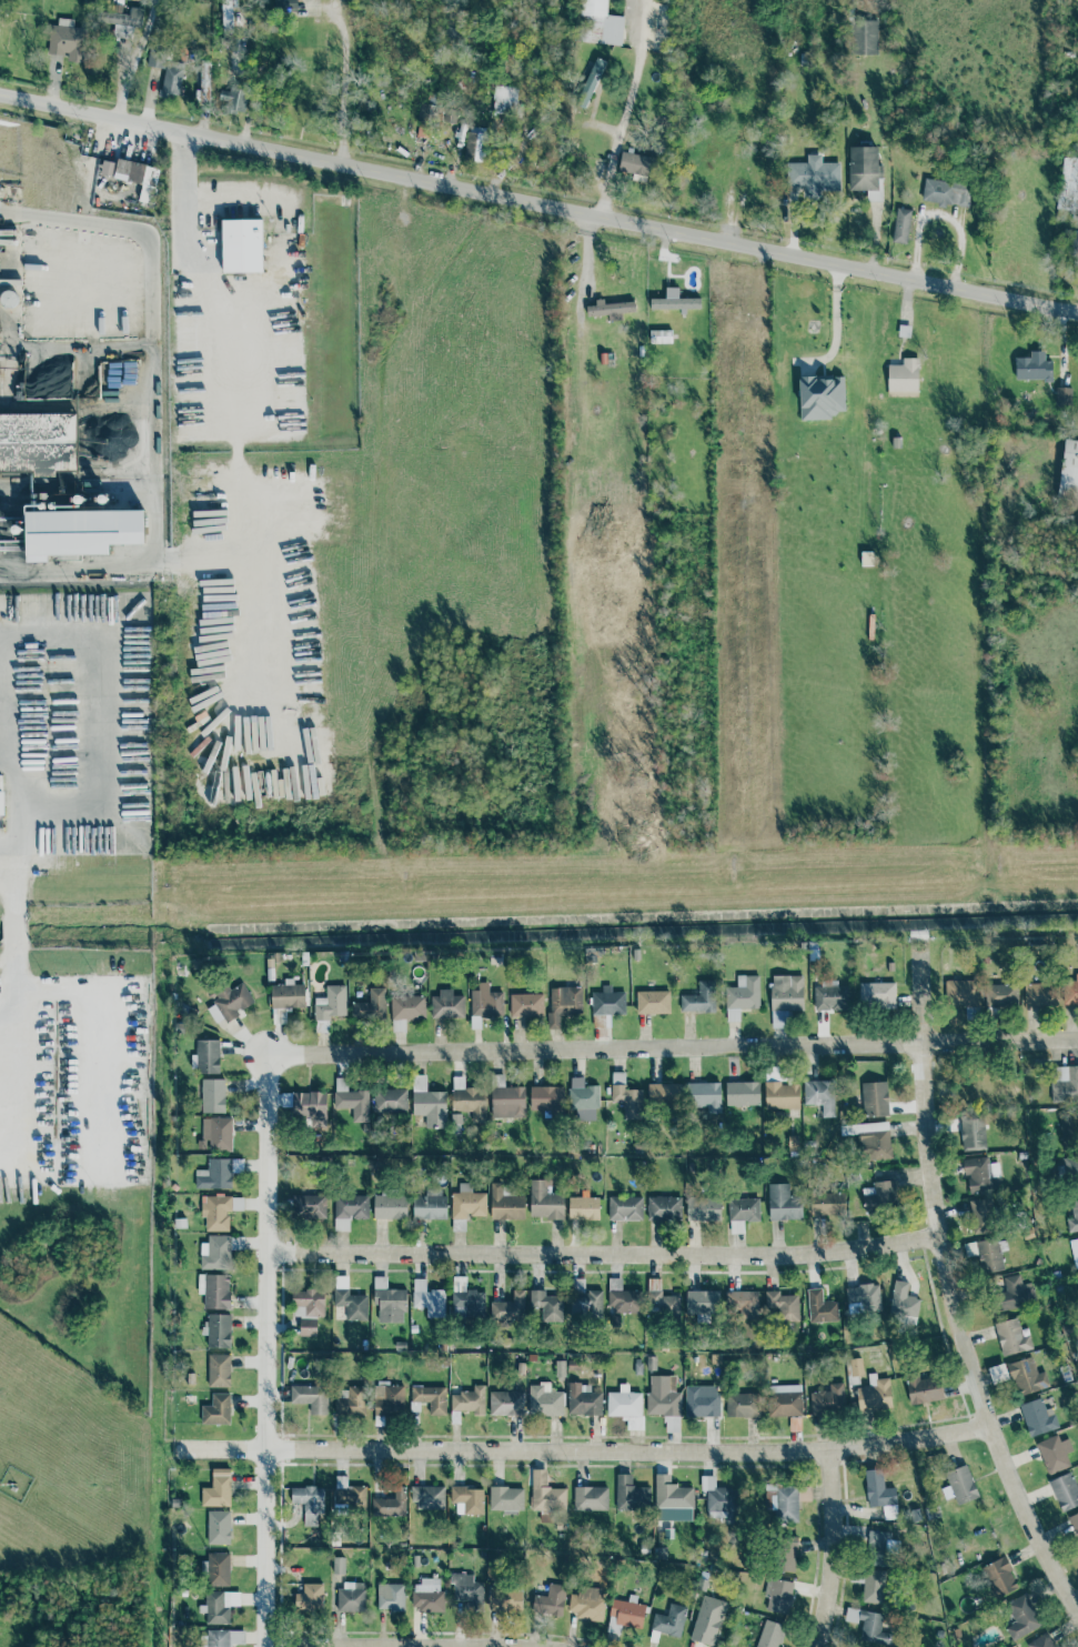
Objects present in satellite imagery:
building: (282, 4)
building: (125, 22)
building: (596, 23)
building: (865, 37)
building: (67, 40)
road: (135, 59)
road: (121, 66)
building: (167, 72)
road: (344, 74)
building: (203, 82)
building: (590, 82)
road: (150, 98)
building: (233, 99)
building: (503, 99)
road: (626, 109)
building: (425, 120)
building: (475, 143)
building: (636, 163)
building: (865, 171)
building: (133, 175)
building: (813, 177)
building: (1068, 188)
building: (945, 192)
road: (238, 200)
road: (538, 204)
road: (943, 214)
building: (901, 225)
building: (1074, 244)
building: (242, 245)
road: (586, 268)
building: (674, 301)
road: (152, 302)
building: (609, 309)
road: (835, 328)
building: (659, 335)
building: (1034, 366)
road: (807, 368)
road: (10, 376)
building: (822, 395)
building: (1064, 395)
road: (39, 408)
building: (38, 441)
road: (236, 452)
building: (1068, 471)
building: (81, 531)
road: (152, 531)
road: (99, 744)
building: (2, 803)
road: (7, 855)
road: (13, 865)
road: (13, 933)
street lamp: (92, 973)
street lamp: (42, 975)
building: (1070, 991)
building: (786, 993)
building: (876, 994)
building: (961, 994)
building: (1039, 994)
building: (288, 995)
building: (1000, 995)
building: (742, 996)
building: (830, 997)
building: (699, 998)
building: (485, 1000)
building: (607, 1002)
building: (652, 1002)
building: (229, 1003)
building: (331, 1003)
building: (563, 1003)
building: (446, 1004)
building: (370, 1005)
building: (526, 1005)
building: (407, 1007)
building: (971, 1013)
road: (673, 1046)
building: (205, 1056)
road: (17, 1061)
building: (772, 1075)
road: (107, 1076)
road: (8, 1081)
building: (1064, 1084)
building: (664, 1093)
building: (742, 1093)
building: (212, 1095)
building: (704, 1095)
building: (780, 1095)
building: (817, 1095)
building: (626, 1096)
building: (583, 1098)
building: (874, 1098)
building: (469, 1099)
building: (547, 1099)
building: (351, 1101)
building: (390, 1101)
building: (510, 1101)
building: (429, 1103)
building: (310, 1107)
building: (1069, 1132)
building: (216, 1133)
building: (969, 1134)
building: (870, 1139)
building: (1068, 1171)
building: (979, 1173)
building: (214, 1174)
street lamp: (94, 1187)
street lamp: (43, 1188)
building: (879, 1196)
building: (545, 1201)
building: (466, 1202)
building: (236, 1203)
building: (783, 1203)
building: (827, 1203)
building: (505, 1204)
building: (308, 1205)
building: (430, 1205)
building: (390, 1206)
building: (583, 1207)
building: (625, 1208)
building: (664, 1208)
building: (703, 1208)
building: (349, 1211)
building: (215, 1212)
building: (742, 1213)
building: (981, 1215)
building: (1074, 1215)
building: (1077, 1239)
building: (215, 1252)
building: (984, 1254)
road: (606, 1256)
building: (1077, 1283)
road: (949, 1285)
building: (214, 1289)
building: (1015, 1293)
building: (622, 1297)
building: (427, 1298)
building: (863, 1298)
building: (466, 1299)
building: (389, 1300)
building: (585, 1300)
building: (661, 1300)
building: (308, 1303)
building: (742, 1303)
building: (351, 1304)
building: (702, 1304)
building: (546, 1305)
building: (903, 1305)
building: (780, 1306)
building: (508, 1307)
building: (820, 1307)
building: (308, 1327)
building: (218, 1329)
building: (1012, 1336)
road: (274, 1349)
building: (855, 1366)
building: (219, 1370)
building: (997, 1373)
building: (1027, 1377)
building: (925, 1389)
building: (662, 1395)
building: (310, 1397)
building: (431, 1398)
building: (544, 1399)
building: (583, 1399)
building: (827, 1399)
building: (469, 1400)
building: (702, 1400)
building: (351, 1402)
building: (506, 1403)
building: (623, 1403)
building: (786, 1403)
building: (742, 1405)
building: (216, 1409)
building: (1037, 1417)
building: (1054, 1453)
road: (586, 1454)
building: (959, 1485)
building: (216, 1488)
building: (1065, 1490)
building: (545, 1493)
building: (804, 1493)
building: (879, 1493)
building: (671, 1494)
building: (631, 1495)
building: (427, 1497)
building: (590, 1497)
building: (350, 1498)
building: (466, 1498)
building: (506, 1498)
building: (721, 1499)
building: (309, 1502)
building: (390, 1503)
building: (786, 1504)
building: (1074, 1523)
building: (218, 1526)
road: (840, 1548)
building: (878, 1548)
building: (786, 1554)
building: (339, 1565)
building: (218, 1569)
building: (999, 1577)
building: (874, 1586)
building: (467, 1588)
building: (427, 1595)
building: (777, 1595)
building: (351, 1596)
building: (309, 1597)
building: (391, 1597)
building: (505, 1599)
building: (550, 1600)
building: (219, 1605)
building: (586, 1605)
building: (624, 1616)
building: (1020, 1616)
building: (669, 1620)
building: (707, 1620)
building: (869, 1626)
building: (769, 1634)
building: (223, 1637)
road: (413, 1645)

